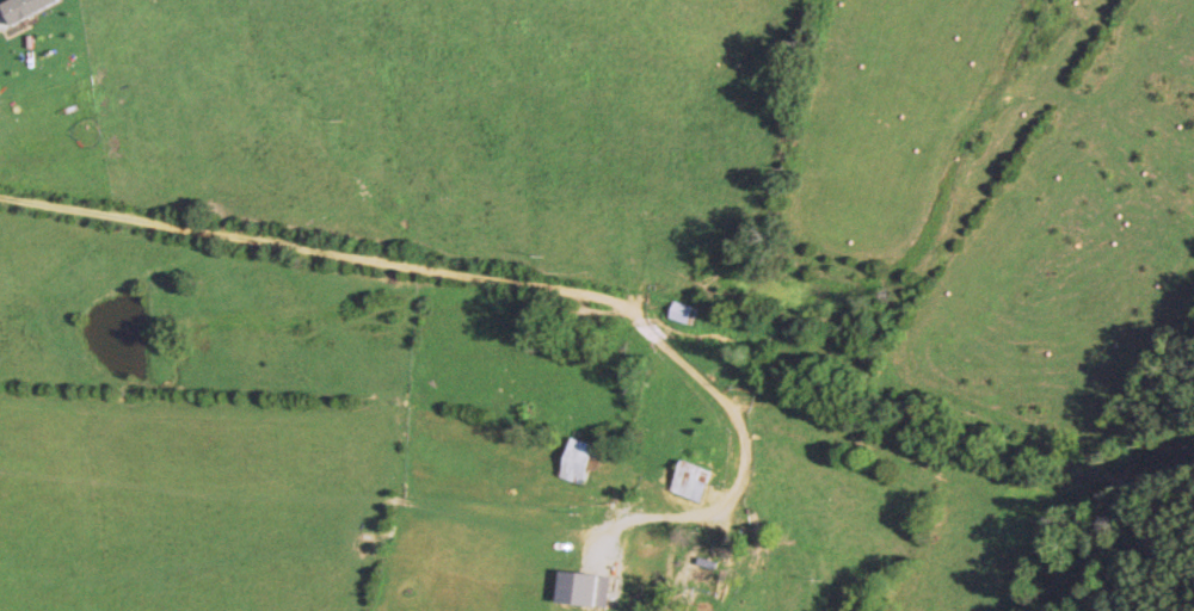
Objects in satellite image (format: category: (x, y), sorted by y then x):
road: (444, 272)
building: (682, 314)
building: (580, 463)
building: (694, 483)
building: (708, 575)

